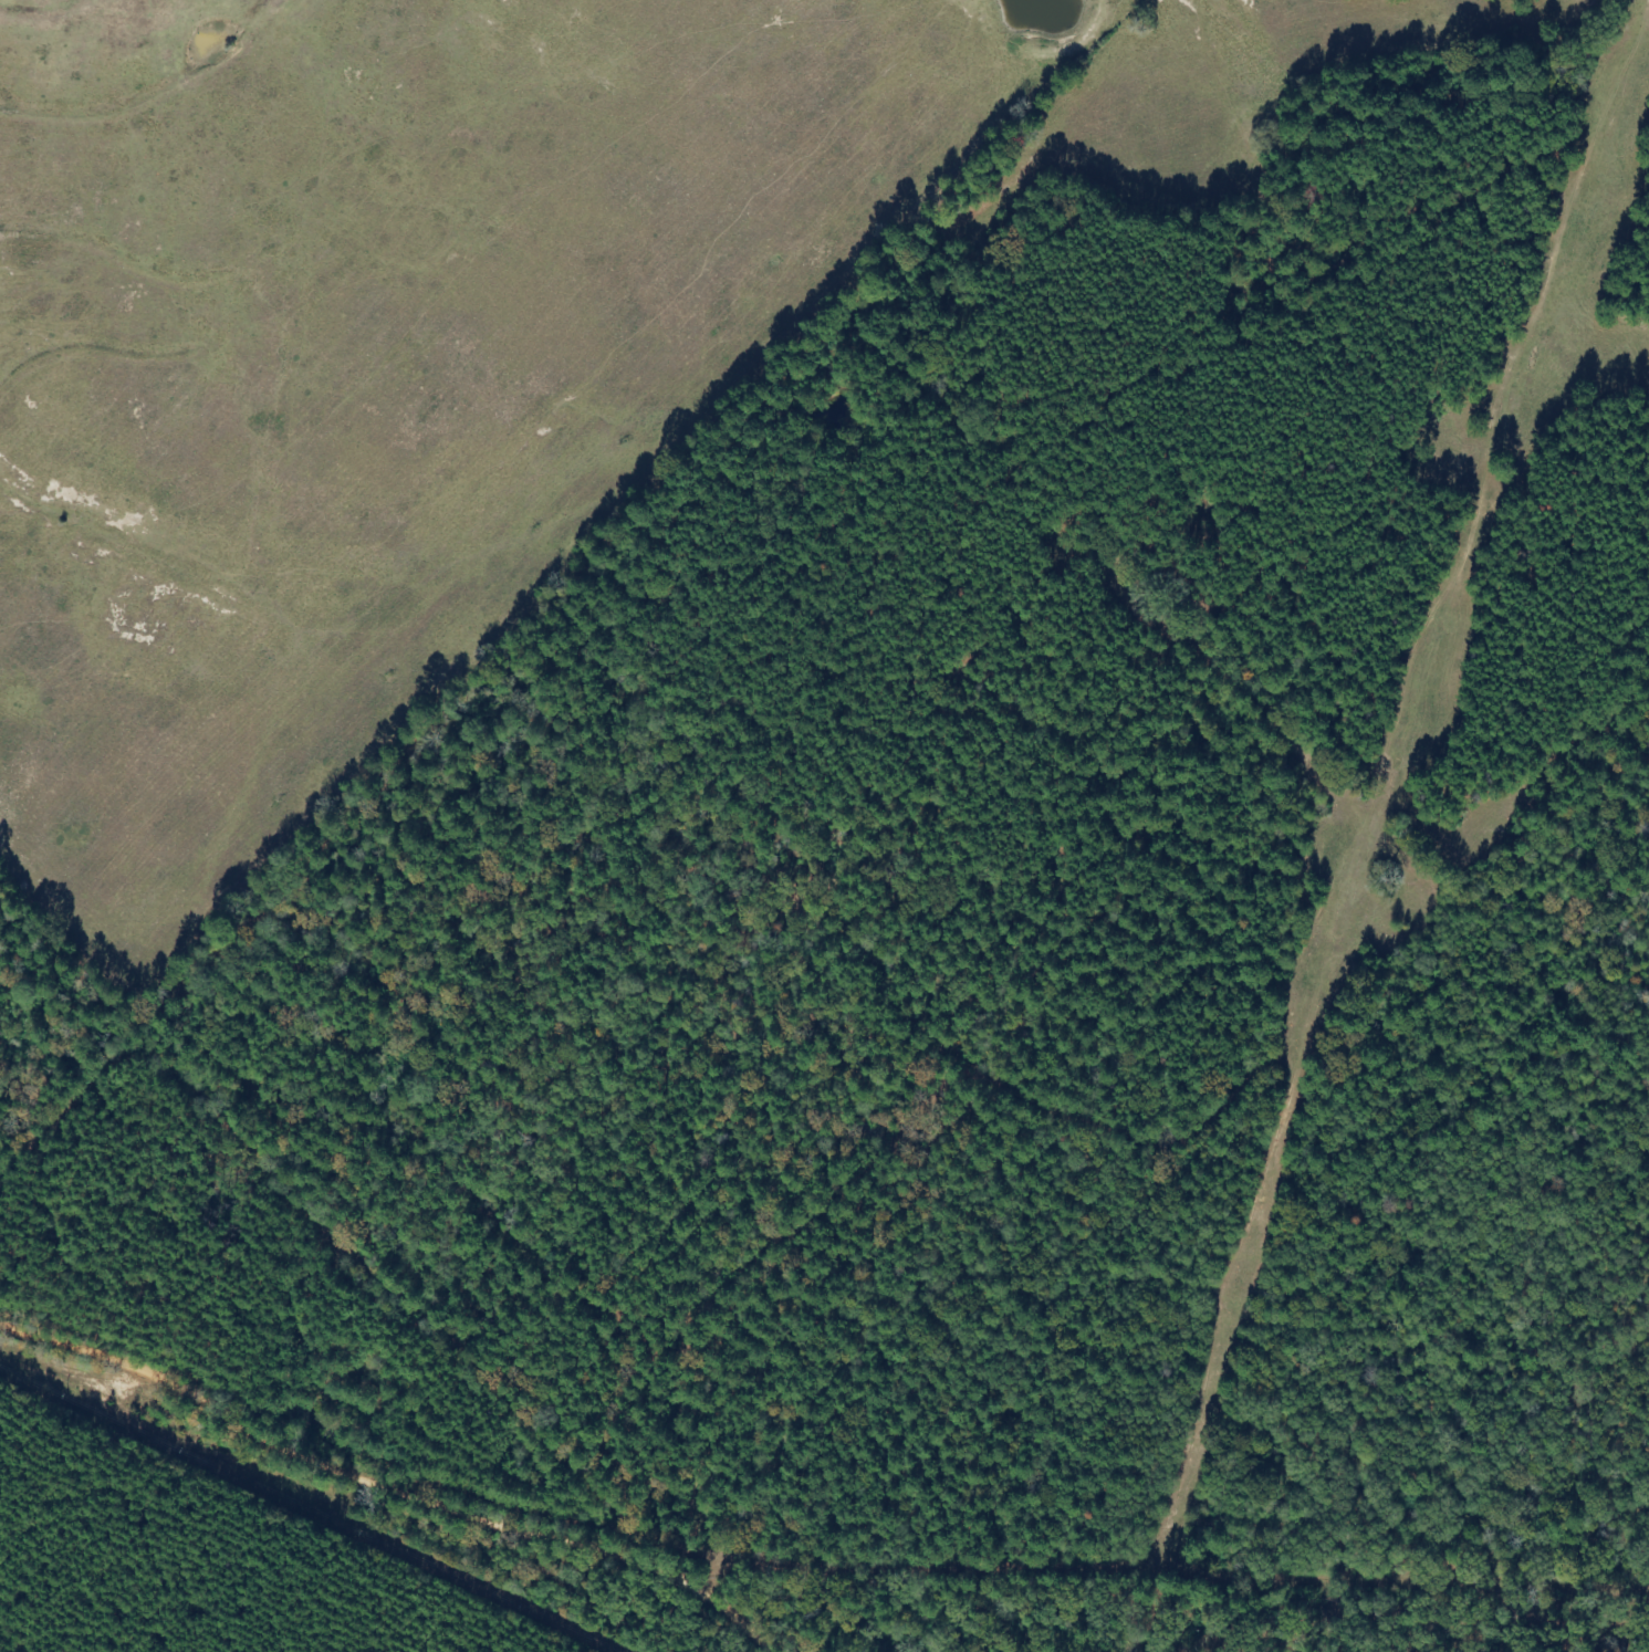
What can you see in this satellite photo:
road: (387, 1463)

